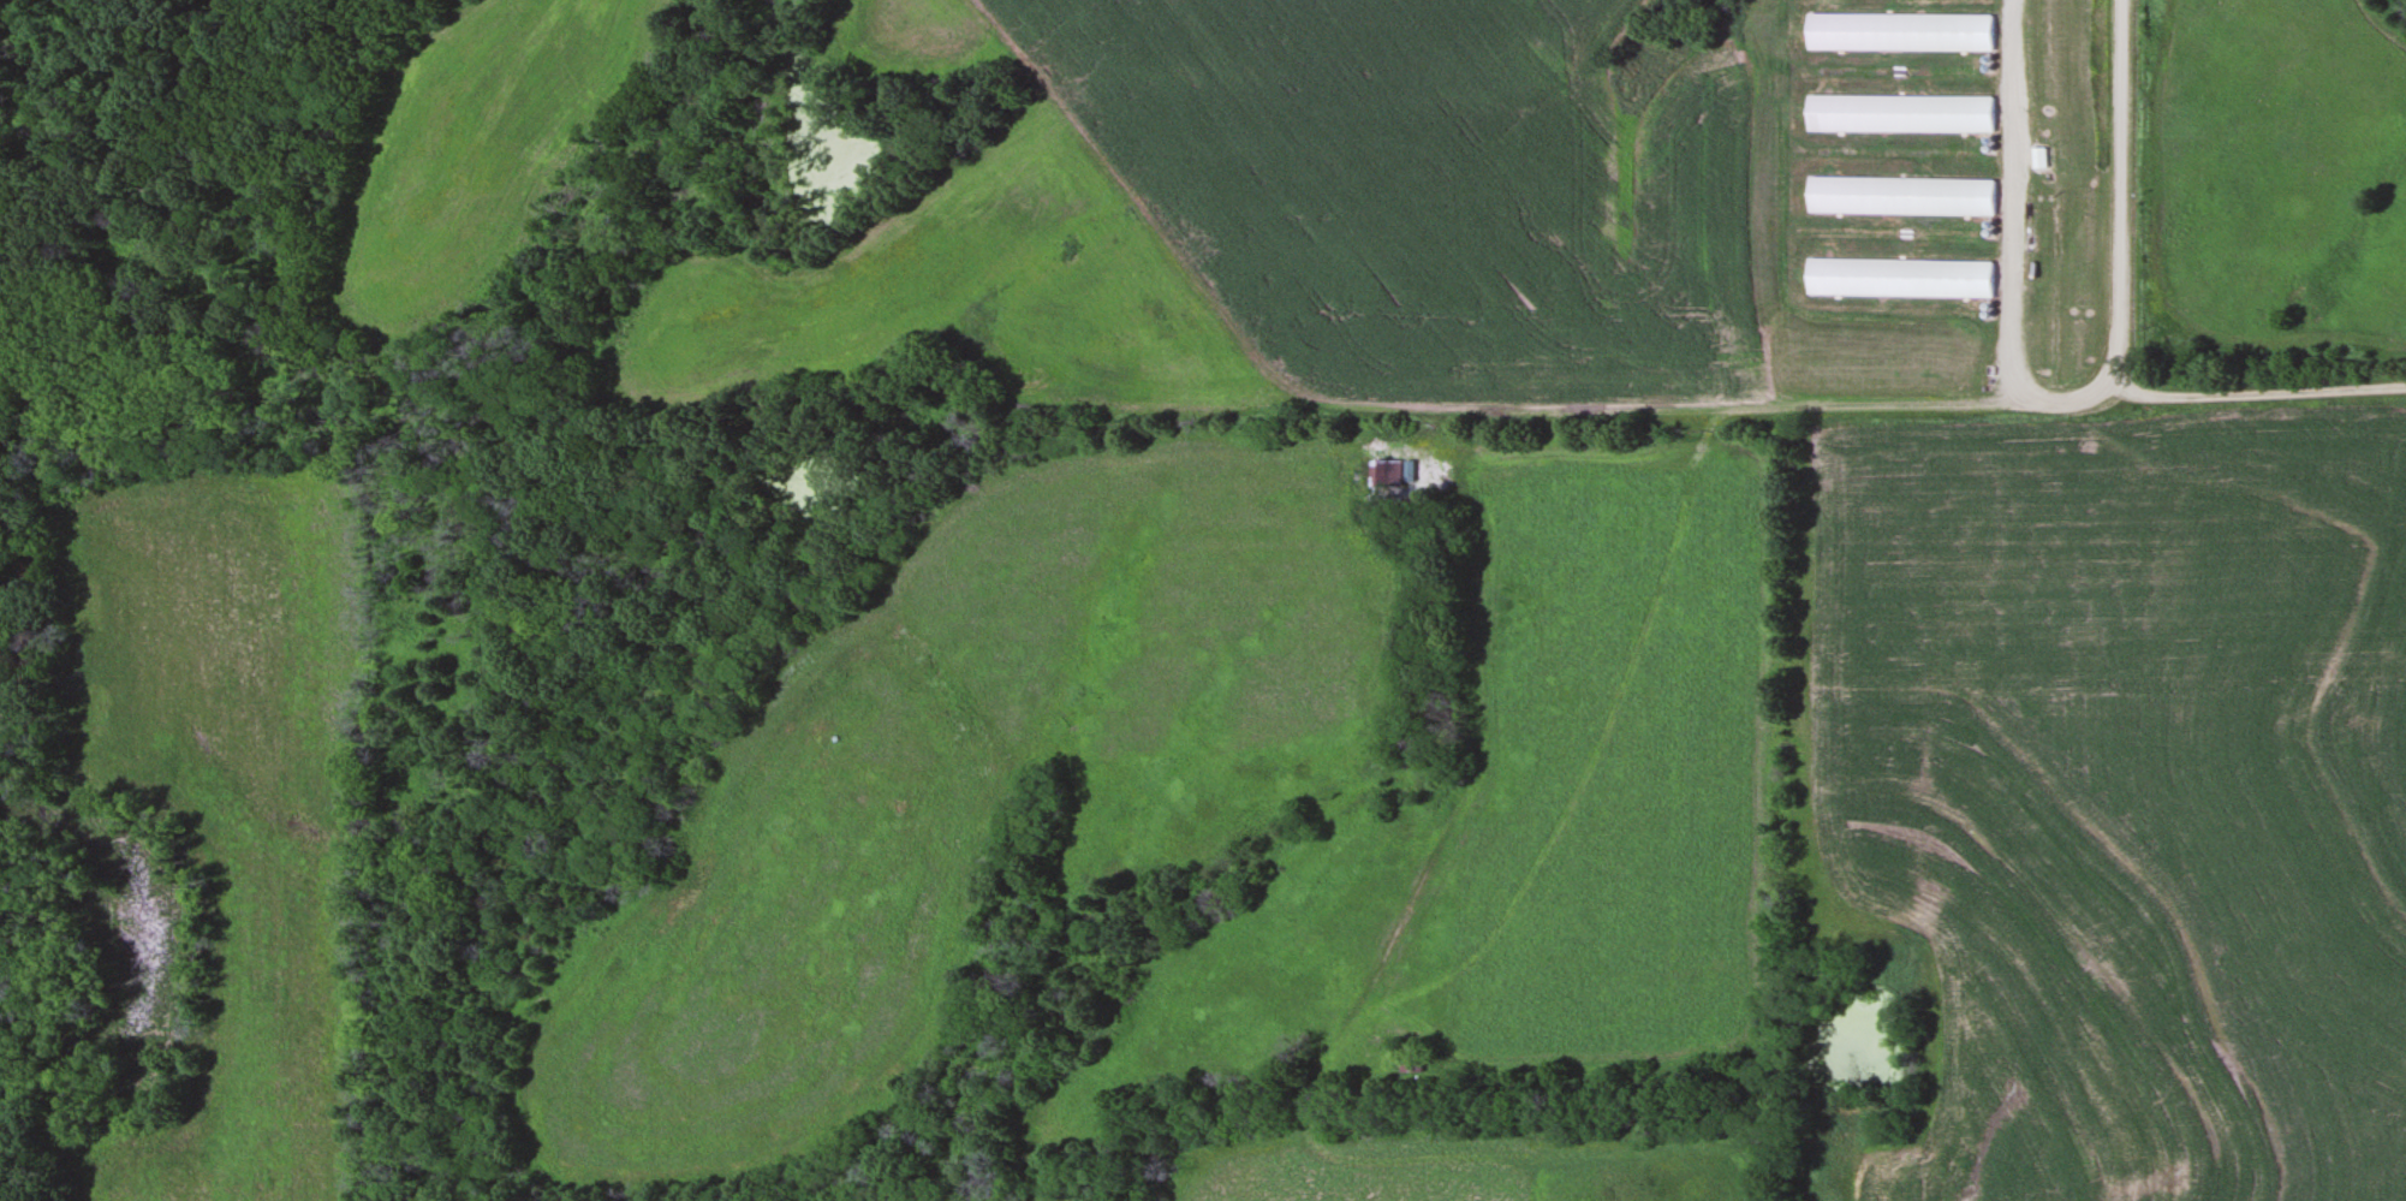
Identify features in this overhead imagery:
building: (1904, 30)
building: (1902, 113)
road: (2119, 174)
building: (1904, 195)
building: (1901, 277)
building: (1389, 472)

